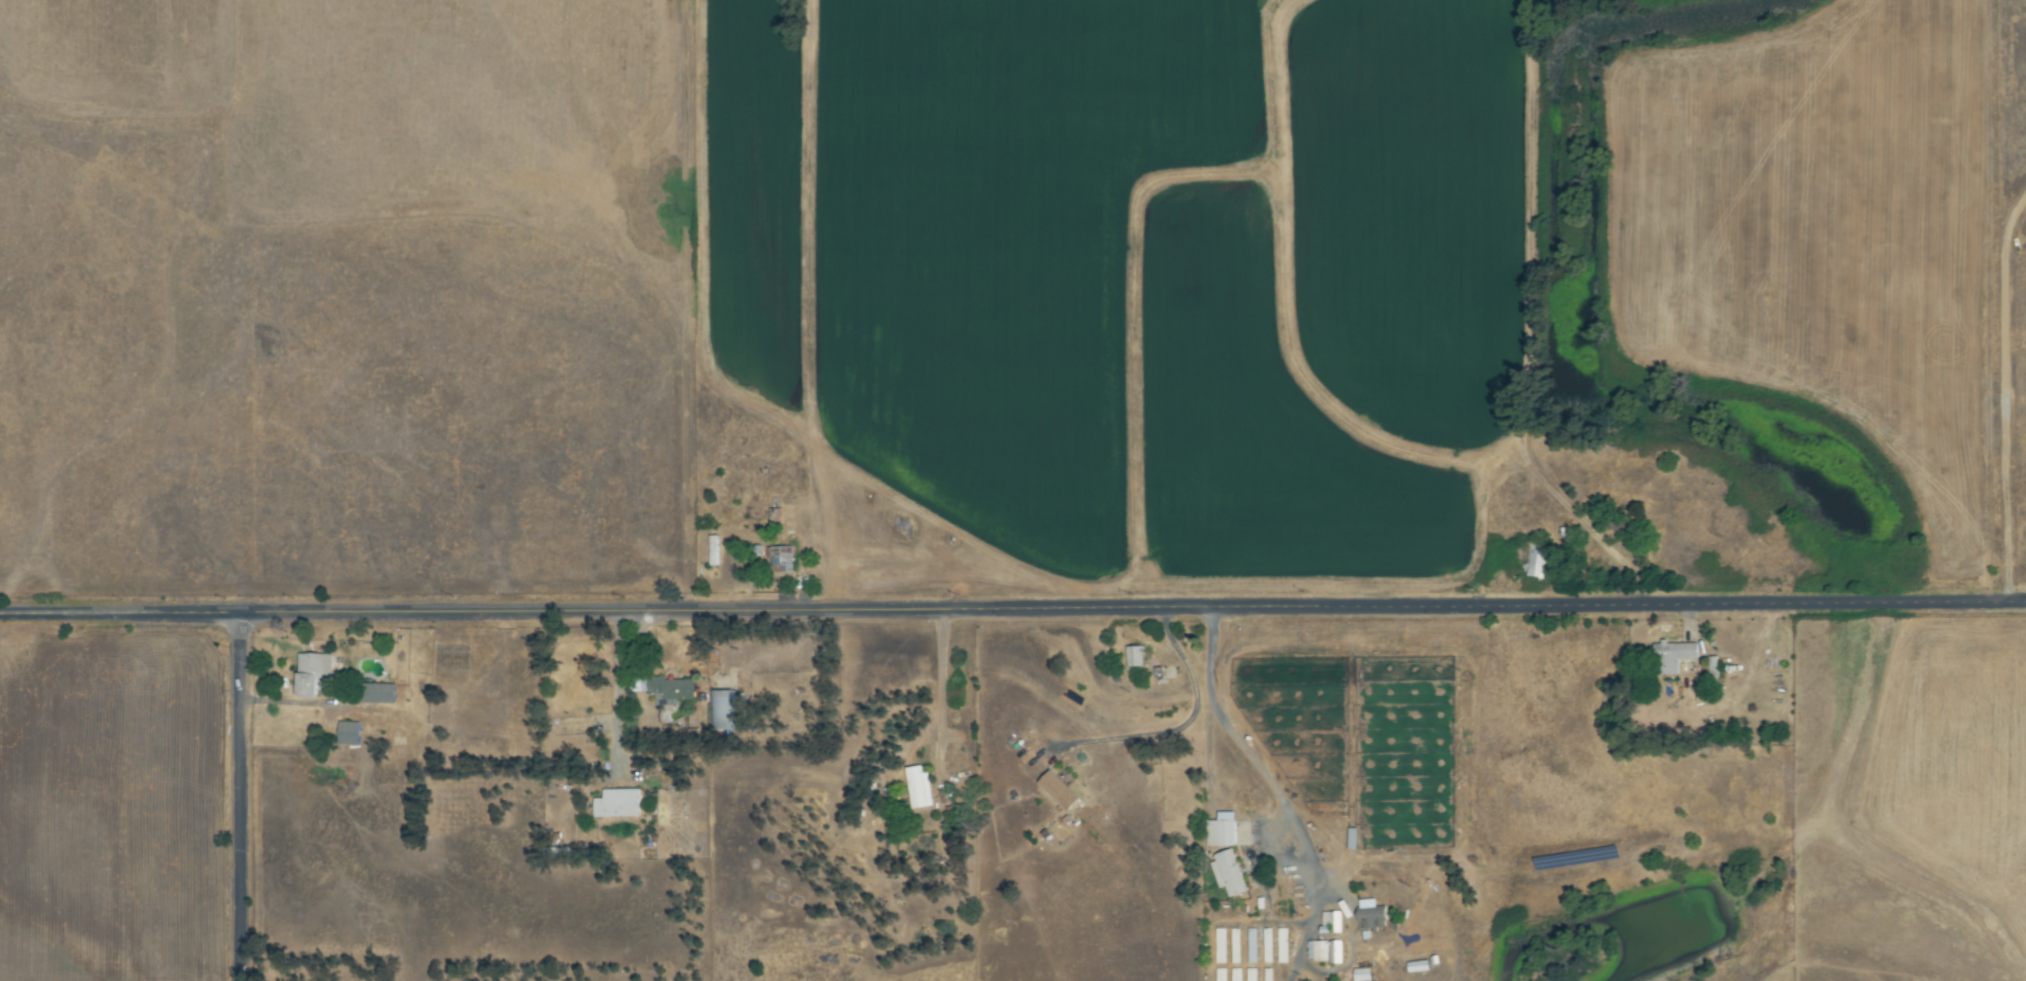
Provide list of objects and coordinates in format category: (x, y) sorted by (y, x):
road: (2002, 392)
building: (781, 561)
building: (1534, 561)
road: (1013, 608)
building: (1134, 656)
building: (1672, 656)
building: (312, 672)
building: (668, 689)
road: (615, 690)
building: (378, 693)
building: (721, 710)
building: (348, 733)
building: (918, 787)
building: (1058, 790)
road: (237, 796)
building: (617, 803)
building: (1221, 830)
building: (1228, 873)
building: (1373, 914)
building: (1331, 922)
building: (1282, 945)
building: (1325, 951)
building: (1362, 975)

